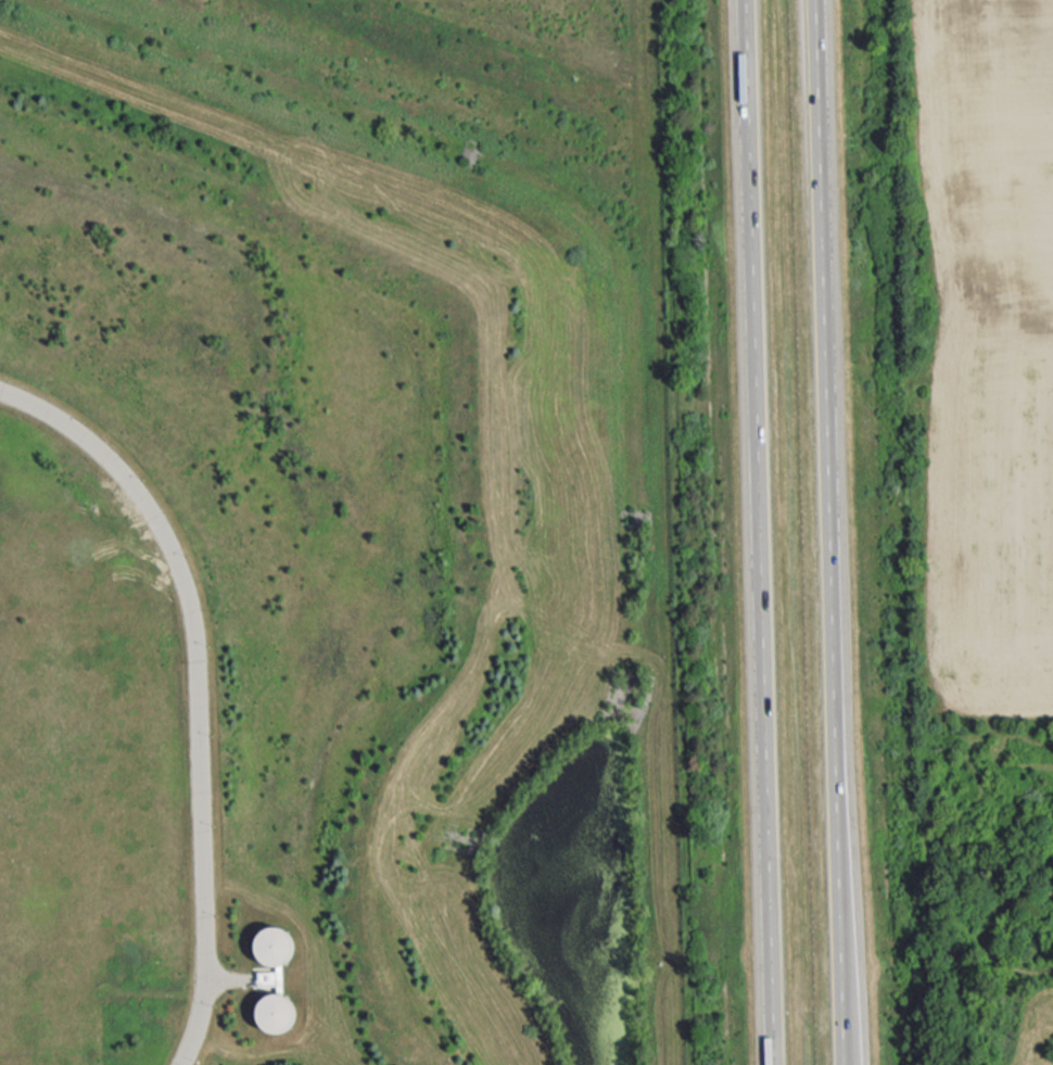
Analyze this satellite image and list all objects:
road: (58, 417)
road: (758, 532)
road: (828, 532)
road: (199, 751)
building: (272, 944)
road: (226, 978)
building: (275, 1002)

